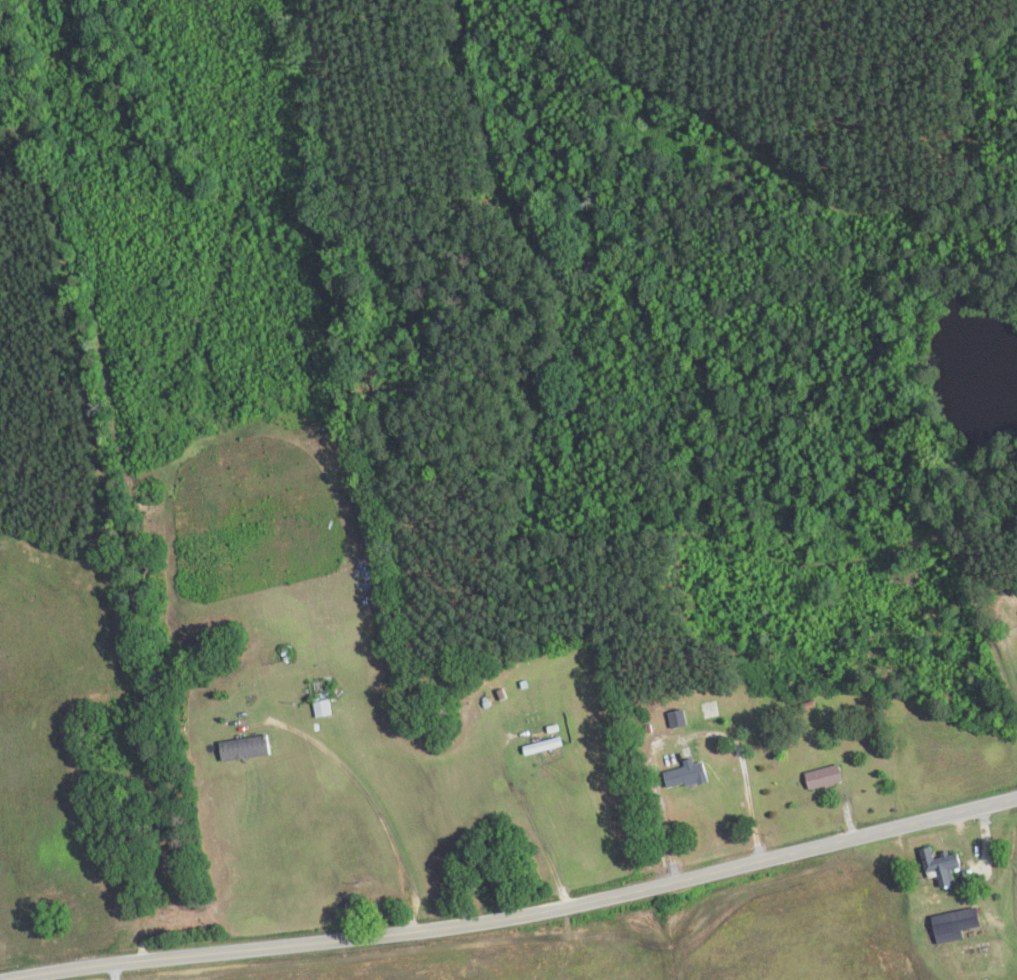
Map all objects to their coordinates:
building: (317, 690)
building: (674, 719)
building: (242, 748)
building: (683, 775)
building: (819, 778)
building: (937, 865)
road: (530, 901)
building: (930, 930)
building: (976, 959)

